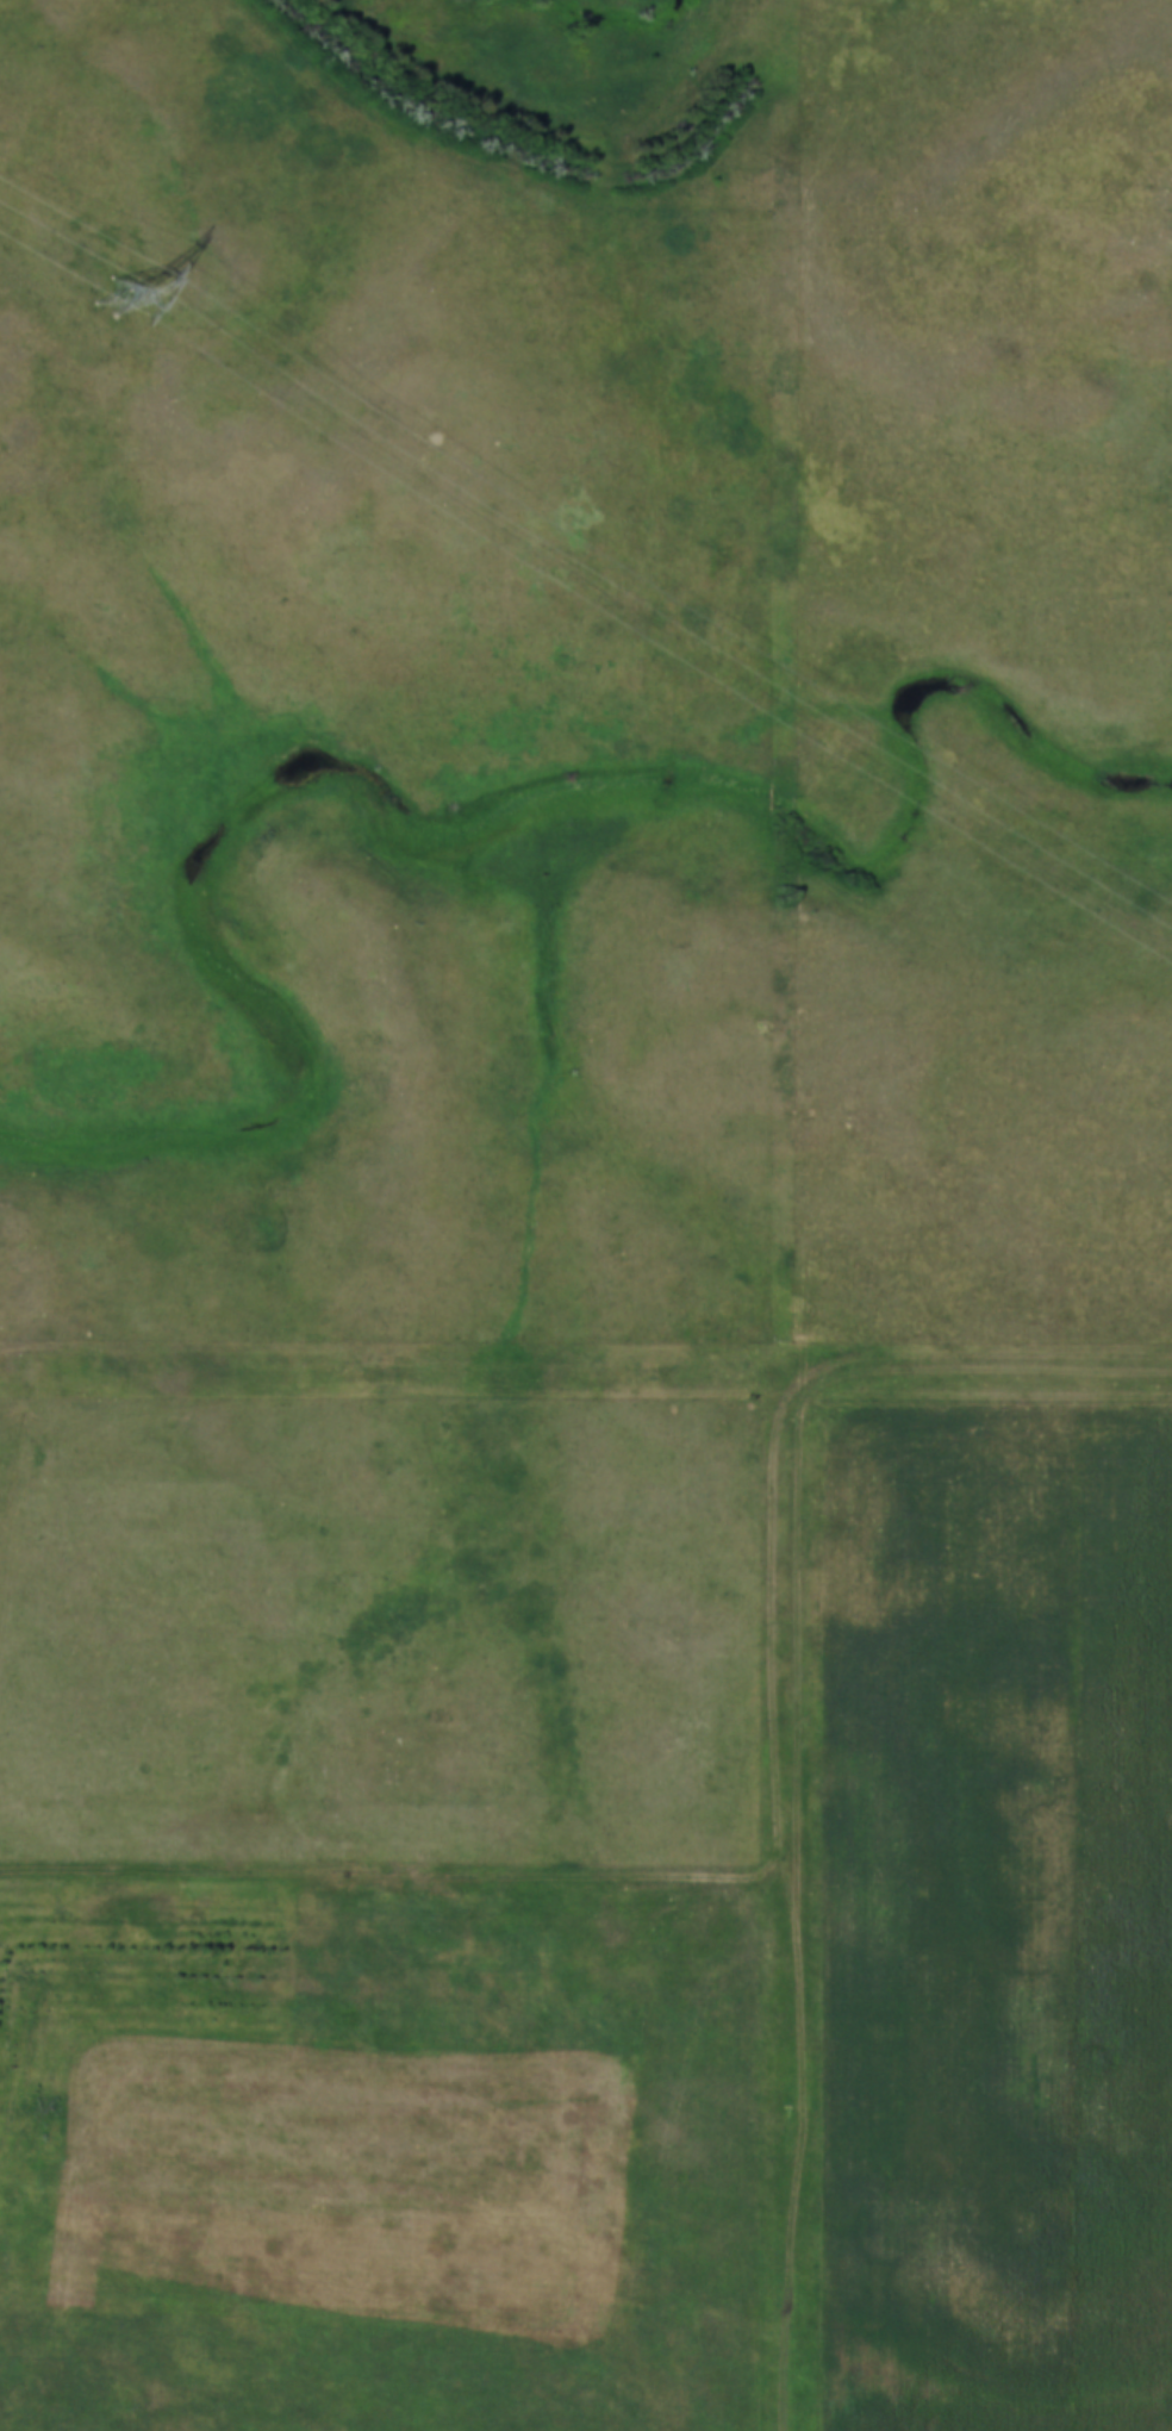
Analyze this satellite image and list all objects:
power tower: (119, 295)
road: (775, 1818)

